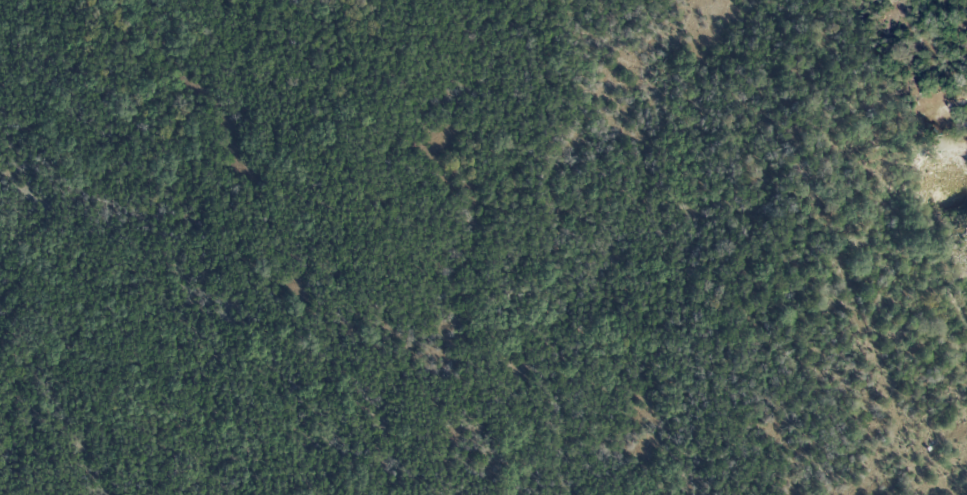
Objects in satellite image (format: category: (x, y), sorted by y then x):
road: (944, 110)
road: (948, 293)

